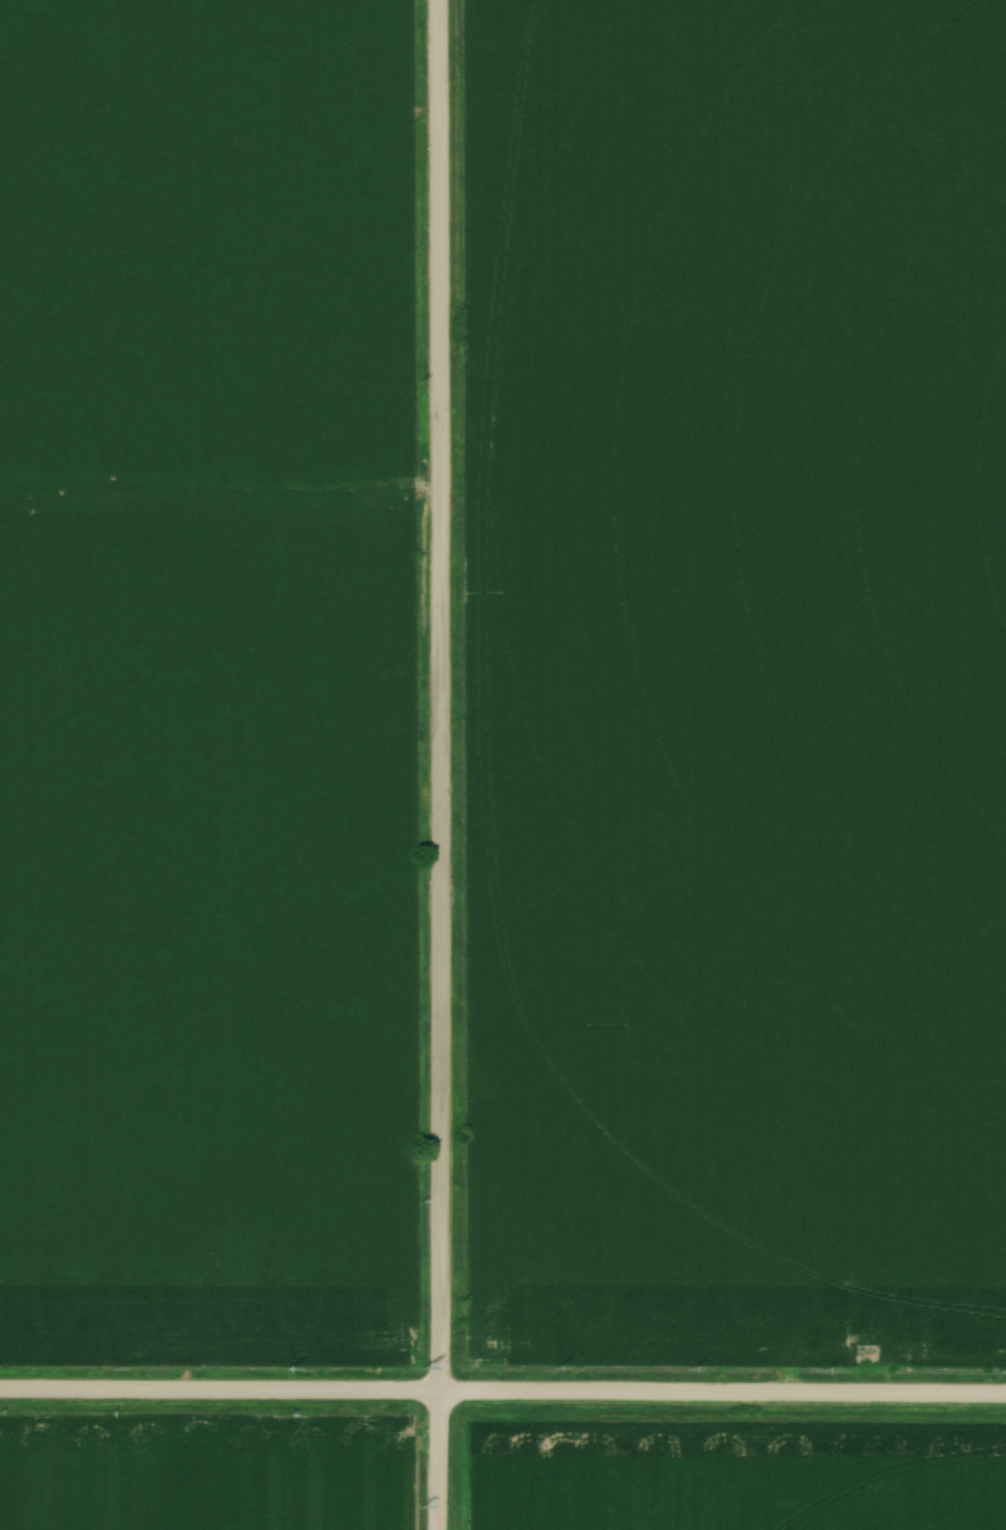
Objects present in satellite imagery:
road: (440, 765)
road: (503, 1393)

